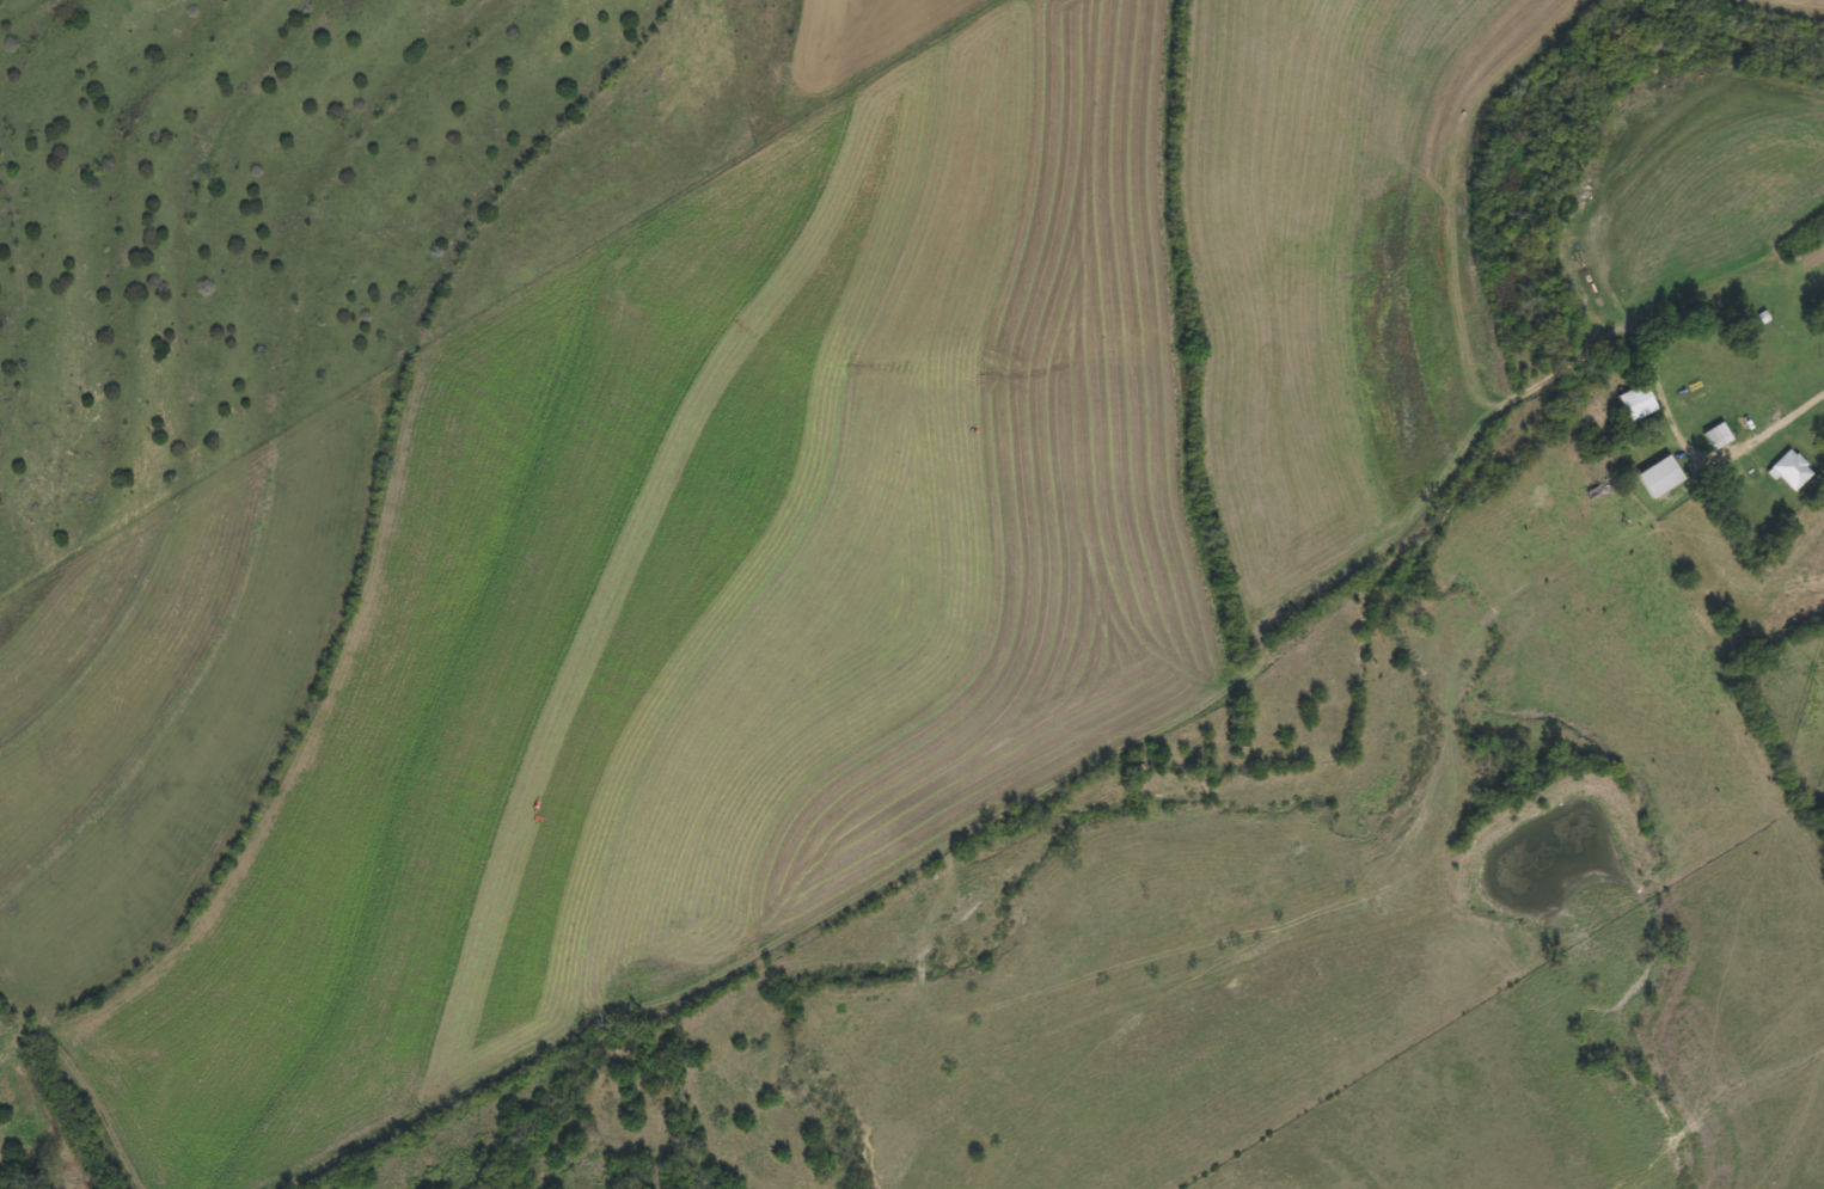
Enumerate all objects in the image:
road: (1769, 421)
building: (1713, 435)
building: (1788, 471)
building: (1655, 478)

